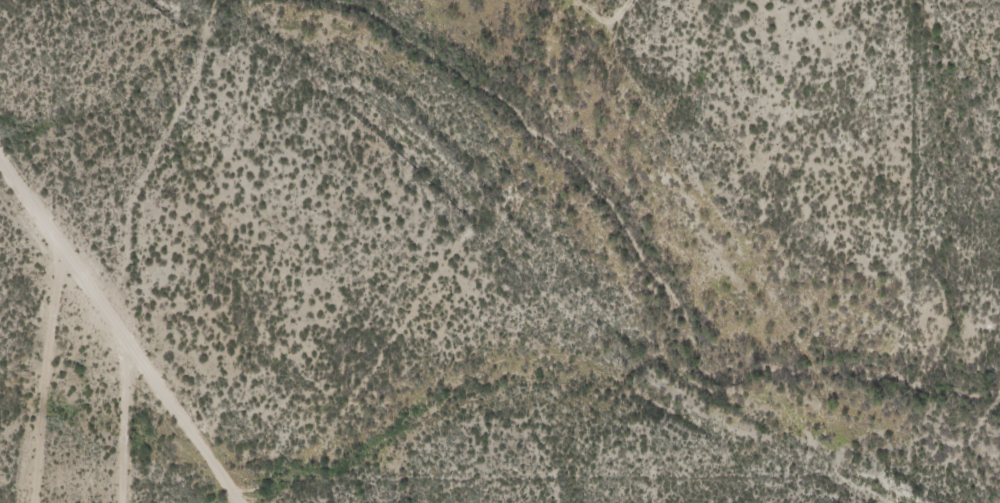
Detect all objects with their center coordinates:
road: (841, 251)
road: (935, 463)

